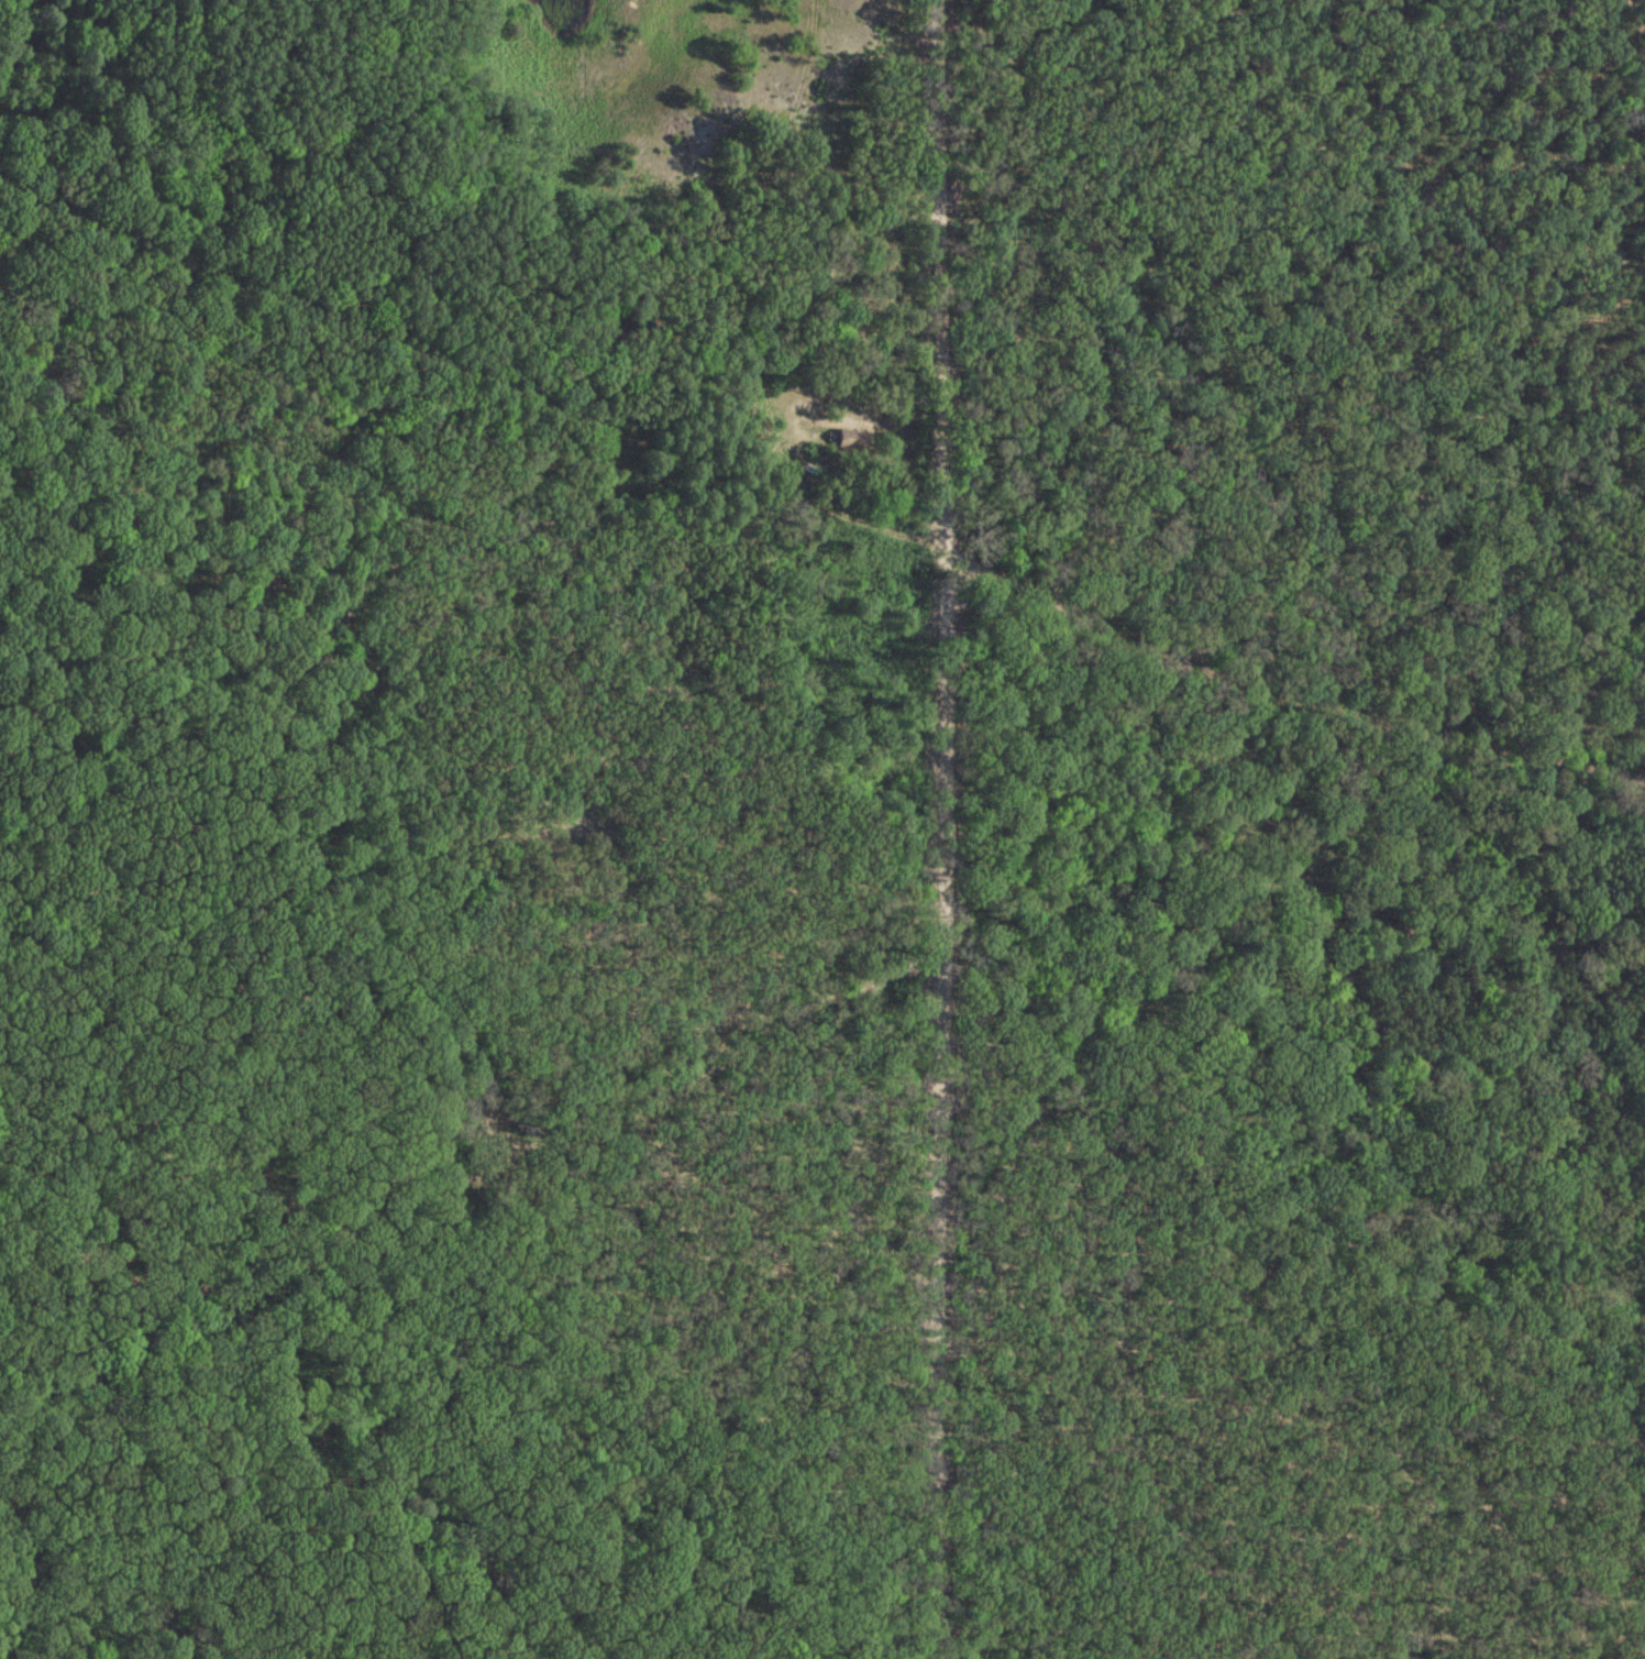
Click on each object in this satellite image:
road: (470, 360)
building: (851, 439)
road: (1281, 686)
road: (936, 828)

